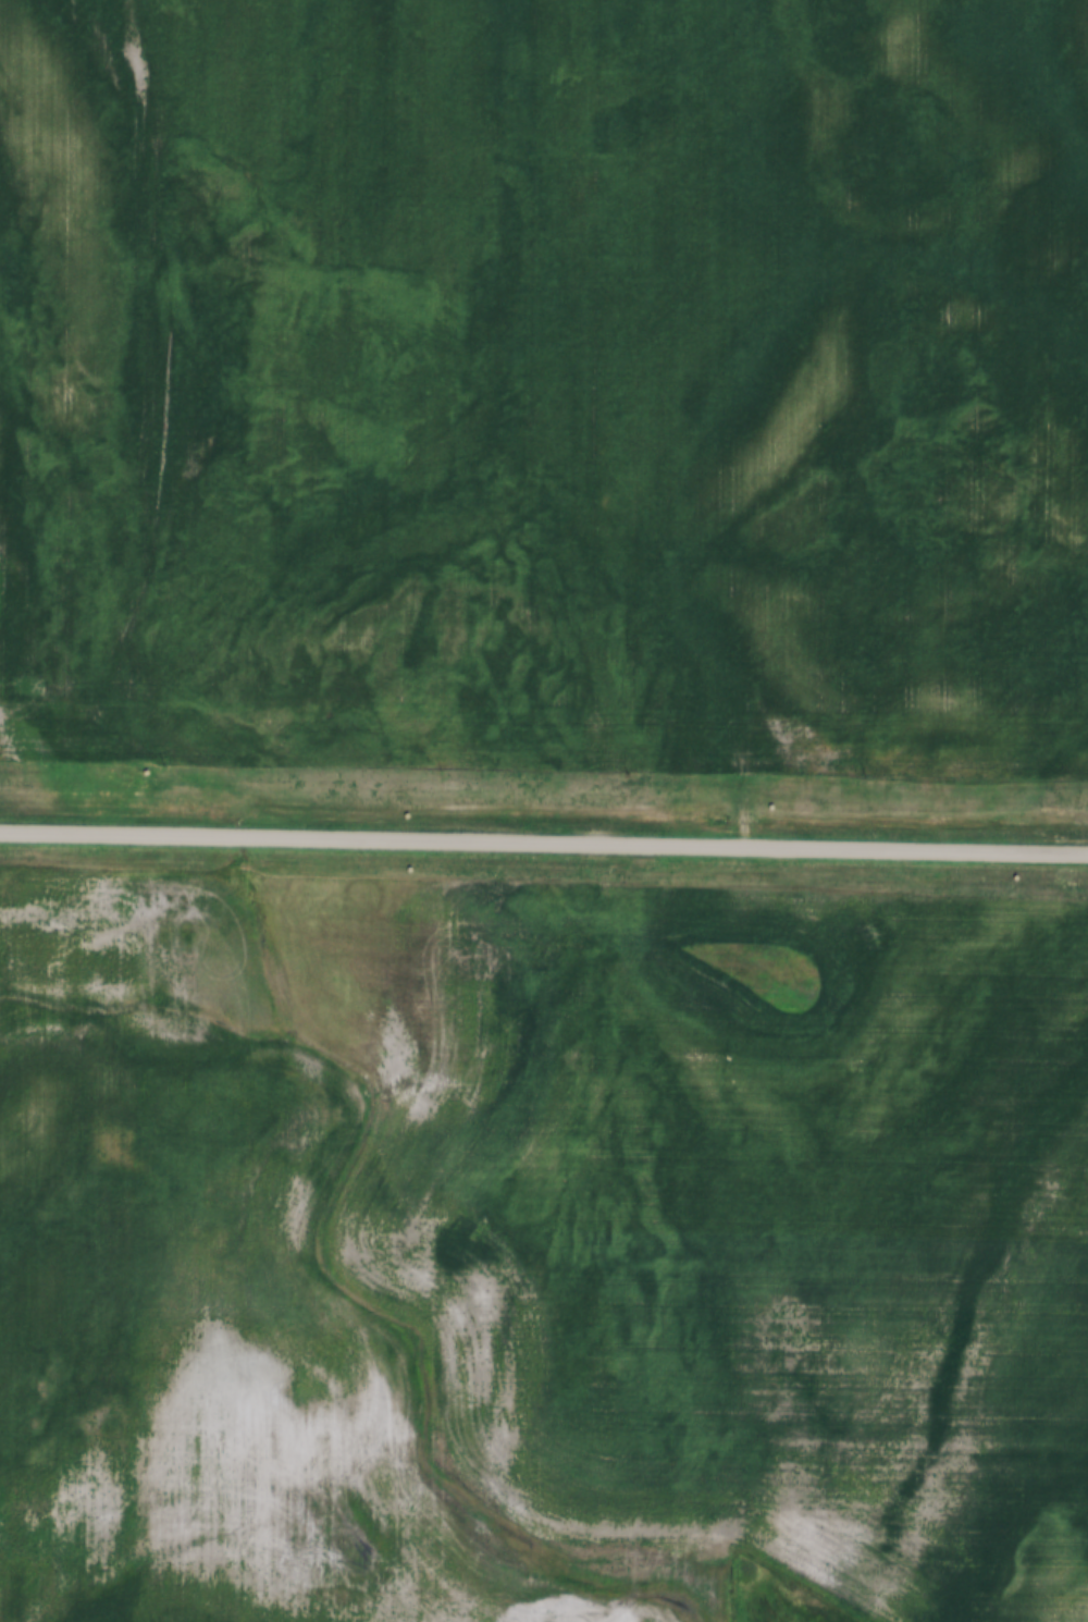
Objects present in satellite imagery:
road: (543, 844)

